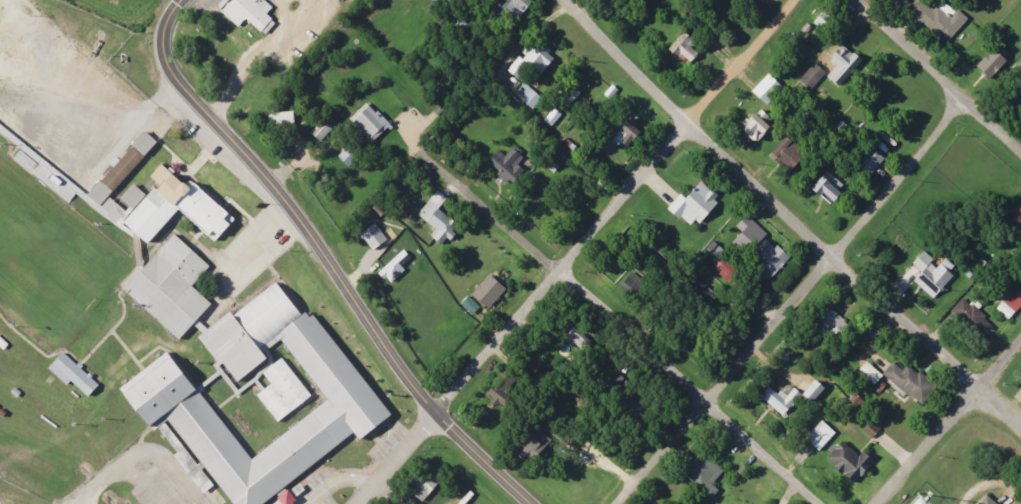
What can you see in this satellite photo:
building: (247, 13)
building: (936, 18)
building: (823, 19)
road: (164, 23)
building: (684, 48)
road: (262, 60)
building: (529, 62)
building: (990, 62)
building: (838, 65)
building: (810, 77)
road: (935, 77)
building: (765, 90)
building: (526, 97)
building: (1016, 100)
building: (551, 118)
building: (277, 119)
building: (367, 123)
building: (751, 129)
building: (788, 147)
building: (346, 156)
building: (552, 162)
building: (503, 165)
building: (866, 165)
building: (826, 186)
building: (691, 205)
road: (609, 208)
road: (786, 216)
building: (436, 219)
building: (371, 236)
road: (252, 245)
building: (757, 248)
park: (47, 259)
building: (392, 267)
building: (930, 275)
road: (336, 281)
building: (701, 292)
building: (485, 293)
road: (788, 303)
building: (1010, 304)
road: (609, 315)
building: (970, 318)
building: (830, 323)
building: (573, 338)
building: (223, 348)
building: (867, 373)
building: (71, 375)
building: (907, 382)
building: (491, 397)
building: (787, 397)
road: (948, 423)
building: (818, 436)
building: (529, 444)
road: (139, 454)
road: (394, 461)
building: (846, 463)
building: (701, 477)
road: (141, 482)
road: (335, 483)
building: (420, 484)
parking lot: (152, 491)
building: (986, 501)
road: (75, 503)
road: (76, 503)

